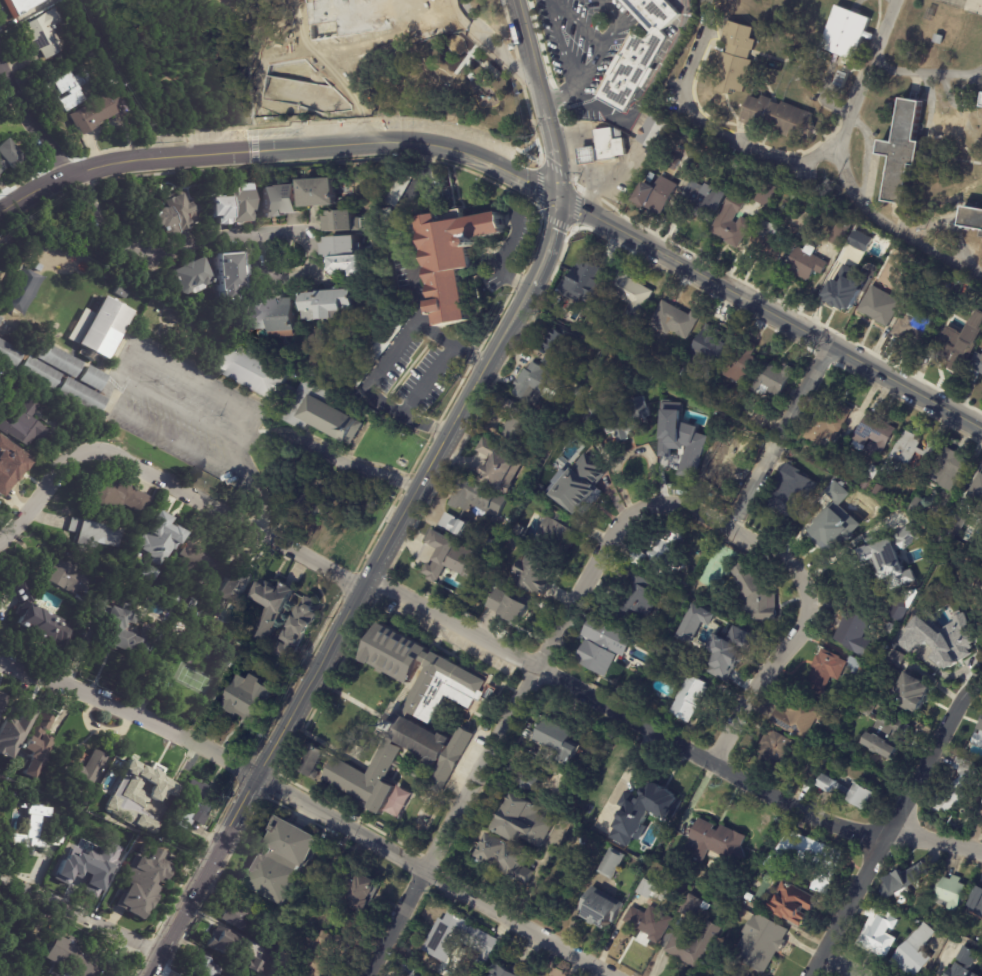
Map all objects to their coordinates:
building: (621, 1)
road: (547, 3)
building: (19, 6)
road: (605, 10)
building: (379, 14)
road: (521, 20)
road: (575, 24)
building: (845, 33)
building: (42, 34)
building: (88, 37)
building: (940, 39)
road: (602, 40)
road: (558, 45)
road: (490, 48)
building: (637, 53)
building: (86, 54)
building: (358, 57)
building: (737, 58)
road: (867, 70)
road: (926, 70)
road: (580, 72)
building: (842, 79)
building: (112, 82)
road: (556, 90)
building: (67, 91)
road: (645, 93)
building: (980, 100)
building: (94, 113)
building: (779, 117)
road: (549, 118)
road: (31, 122)
road: (708, 129)
building: (656, 133)
road: (278, 147)
building: (606, 148)
building: (700, 149)
building: (903, 151)
building: (8, 155)
building: (655, 178)
building: (399, 191)
building: (323, 194)
building: (769, 195)
building: (657, 197)
traffic signals: (557, 199)
building: (706, 202)
building: (280, 203)
building: (233, 207)
building: (803, 216)
building: (176, 217)
building: (775, 217)
building: (388, 219)
building: (972, 219)
building: (348, 222)
building: (735, 223)
road: (886, 226)
building: (841, 232)
building: (859, 241)
building: (771, 244)
building: (342, 245)
road: (168, 253)
road: (501, 258)
building: (456, 259)
building: (807, 263)
building: (350, 264)
building: (39, 268)
building: (228, 274)
building: (109, 276)
building: (587, 277)
building: (190, 278)
building: (121, 293)
building: (844, 293)
building: (630, 297)
building: (330, 307)
building: (879, 310)
road: (769, 313)
building: (0, 317)
building: (271, 318)
building: (0, 319)
road: (419, 320)
building: (676, 321)
building: (917, 328)
building: (105, 329)
road: (453, 341)
building: (559, 348)
building: (960, 348)
building: (708, 350)
building: (11, 355)
building: (60, 360)
building: (977, 363)
building: (745, 365)
road: (129, 369)
building: (682, 372)
building: (43, 373)
road: (427, 378)
building: (94, 379)
building: (777, 382)
building: (540, 385)
building: (6, 390)
building: (289, 394)
building: (84, 396)
building: (667, 409)
building: (619, 419)
building: (761, 420)
building: (23, 425)
building: (832, 426)
building: (525, 430)
building: (666, 430)
road: (780, 435)
building: (877, 436)
road: (273, 438)
building: (932, 452)
building: (687, 453)
building: (907, 455)
building: (732, 464)
building: (10, 466)
building: (499, 468)
building: (952, 470)
building: (545, 484)
building: (871, 485)
building: (580, 488)
building: (116, 493)
building: (978, 493)
building: (795, 494)
road: (40, 497)
building: (478, 499)
building: (311, 509)
building: (925, 509)
building: (837, 517)
building: (486, 522)
building: (457, 527)
building: (958, 528)
building: (95, 533)
road: (746, 533)
building: (557, 538)
building: (492, 546)
road: (852, 548)
building: (666, 552)
building: (895, 557)
building: (446, 558)
building: (637, 559)
building: (198, 565)
building: (68, 573)
building: (536, 577)
building: (232, 587)
road: (358, 590)
building: (637, 597)
building: (79, 598)
building: (187, 601)
building: (758, 601)
building: (903, 604)
building: (509, 605)
building: (272, 606)
building: (39, 617)
building: (694, 622)
building: (120, 626)
building: (300, 630)
building: (855, 634)
building: (741, 636)
building: (916, 638)
building: (953, 642)
building: (603, 647)
building: (733, 649)
road: (530, 658)
building: (897, 659)
building: (861, 670)
building: (825, 672)
building: (616, 674)
building: (914, 691)
road: (760, 695)
building: (248, 698)
building: (692, 700)
building: (2, 701)
building: (868, 706)
building: (802, 717)
building: (410, 720)
building: (15, 731)
building: (886, 735)
building: (978, 739)
building: (563, 741)
road: (495, 742)
building: (38, 745)
building: (775, 749)
building: (314, 762)
building: (87, 769)
building: (145, 777)
building: (811, 777)
building: (531, 782)
building: (959, 786)
building: (850, 791)
building: (71, 796)
building: (981, 801)
building: (396, 802)
building: (197, 804)
road: (310, 804)
building: (644, 810)
building: (524, 821)
building: (93, 824)
building: (34, 825)
road: (893, 829)
building: (719, 843)
building: (508, 858)
building: (809, 859)
building: (281, 861)
building: (613, 863)
building: (82, 870)
building: (5, 879)
building: (909, 882)
building: (143, 883)
building: (648, 889)
building: (361, 890)
building: (953, 892)
building: (749, 897)
building: (977, 903)
building: (742, 904)
building: (795, 904)
building: (601, 908)
road: (89, 914)
building: (237, 917)
building: (651, 923)
building: (881, 935)
building: (694, 936)
building: (455, 937)
building: (222, 942)
building: (762, 943)
building: (917, 951)
building: (325, 953)
building: (73, 958)
building: (283, 960)
building: (964, 963)
building: (253, 966)
road: (834, 966)
building: (205, 968)
building: (409, 971)
building: (506, 971)
building: (245, 975)
building: (711, 975)
building: (714, 975)

